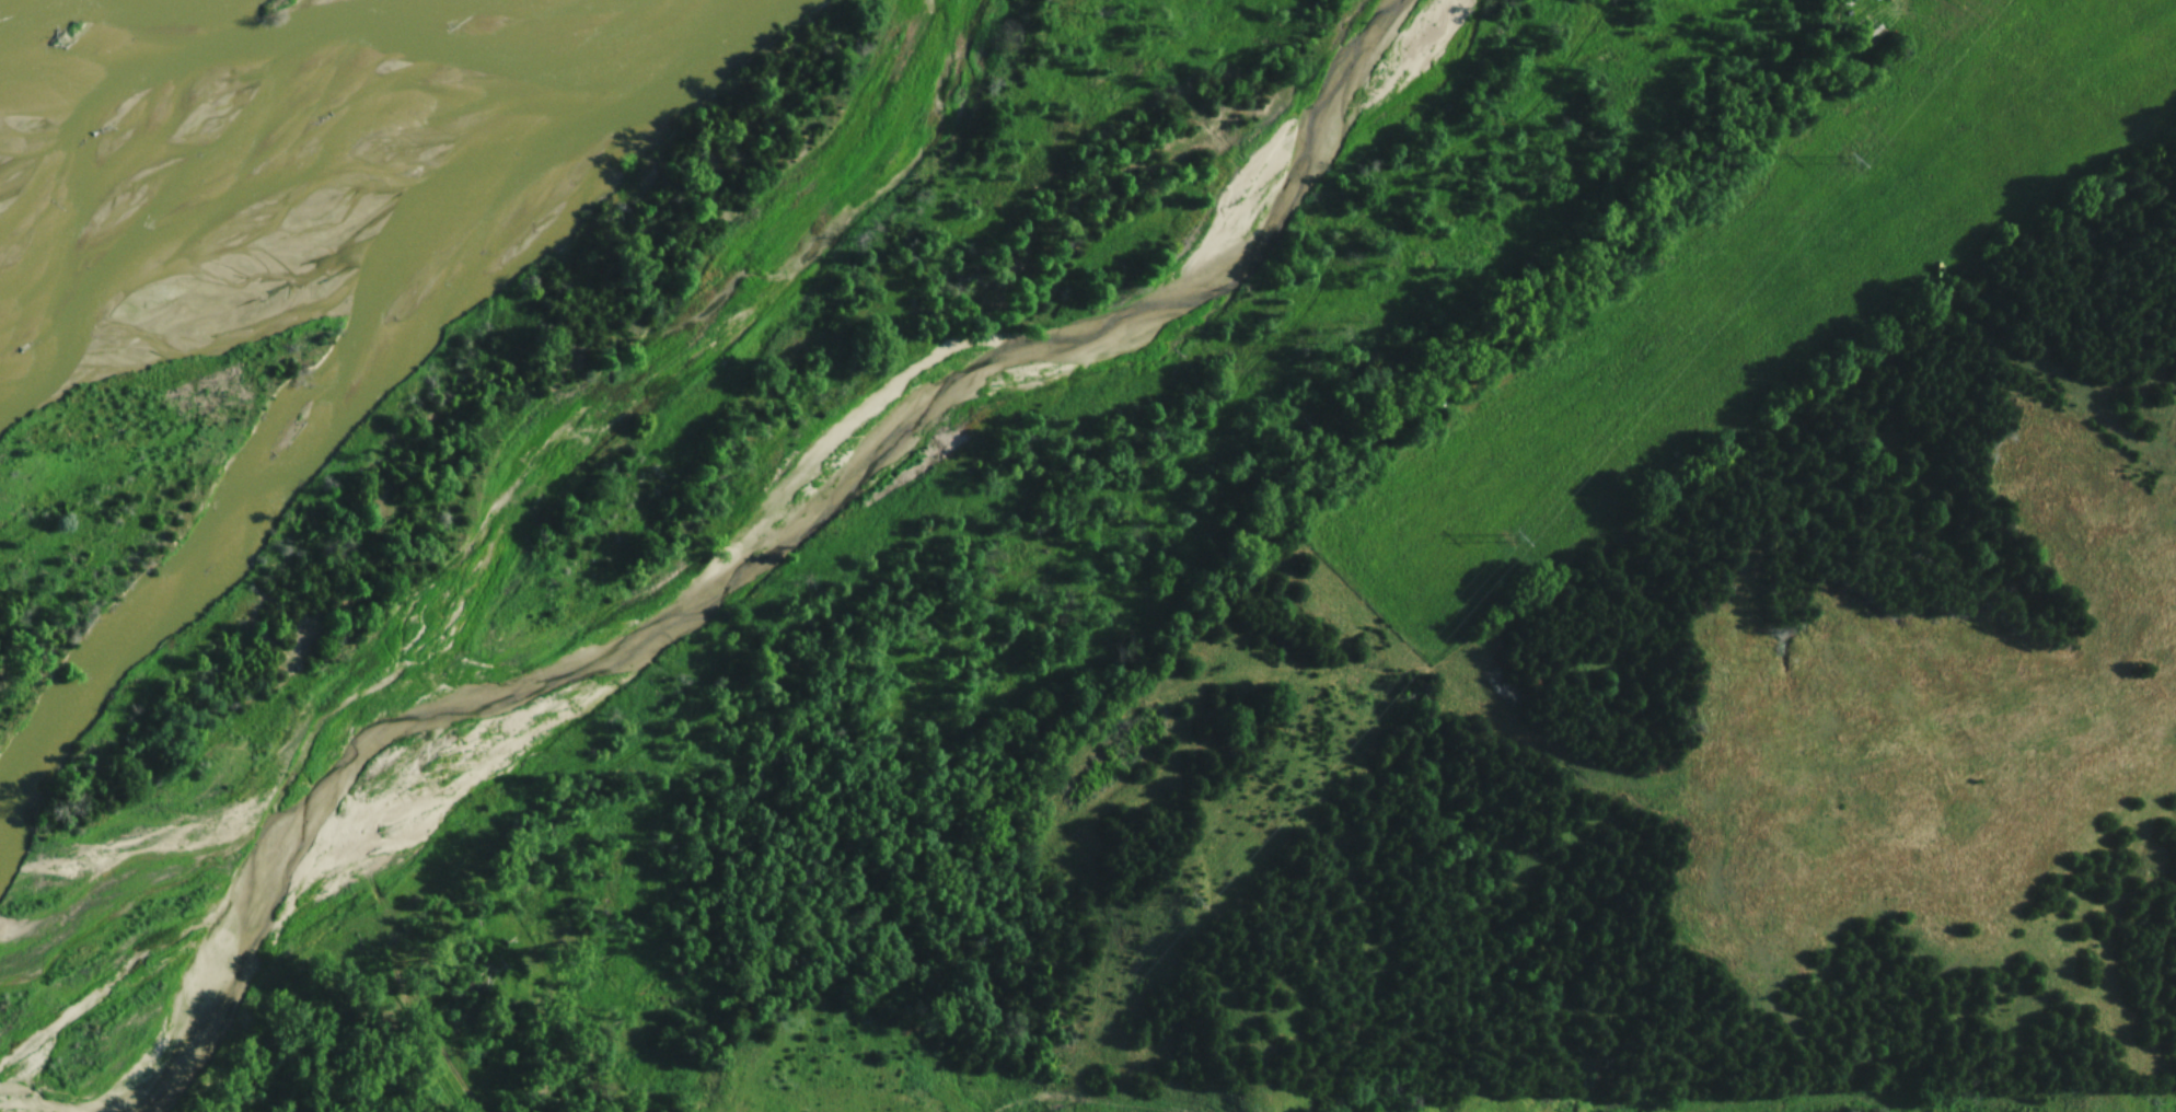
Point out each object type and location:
river: (354, 147)
power tower: (1845, 160)
power tower: (1513, 540)
power tower: (1187, 901)

